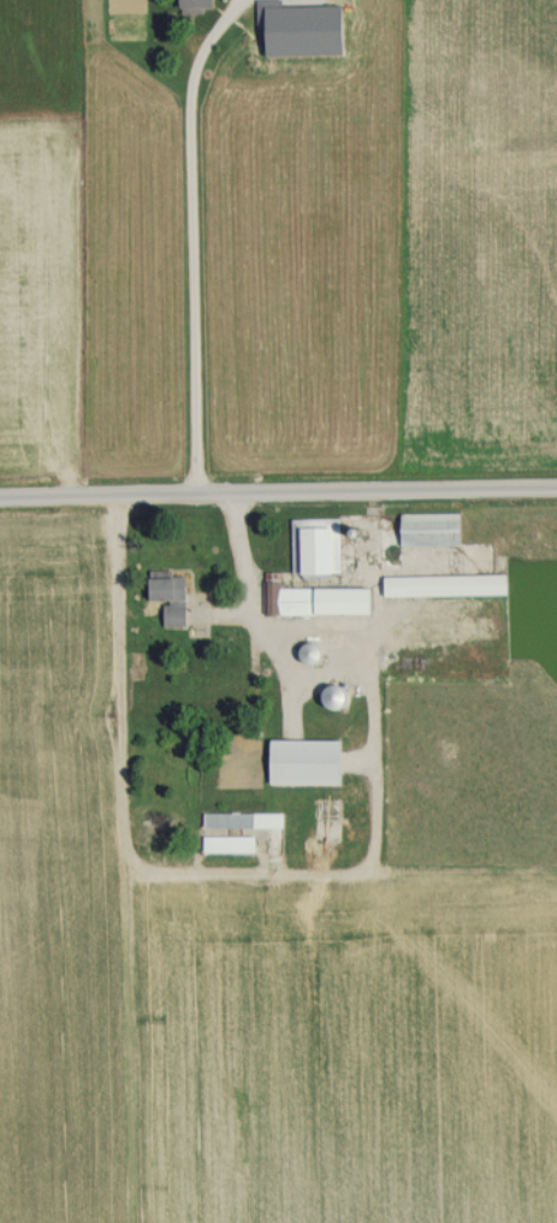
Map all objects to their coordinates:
building: (188, 4)
building: (297, 7)
road: (188, 243)
road: (278, 497)
building: (425, 528)
building: (312, 546)
building: (438, 584)
building: (161, 586)
building: (314, 599)
building: (304, 652)
building: (325, 697)
building: (300, 761)
building: (237, 820)
building: (224, 844)
road: (297, 878)

